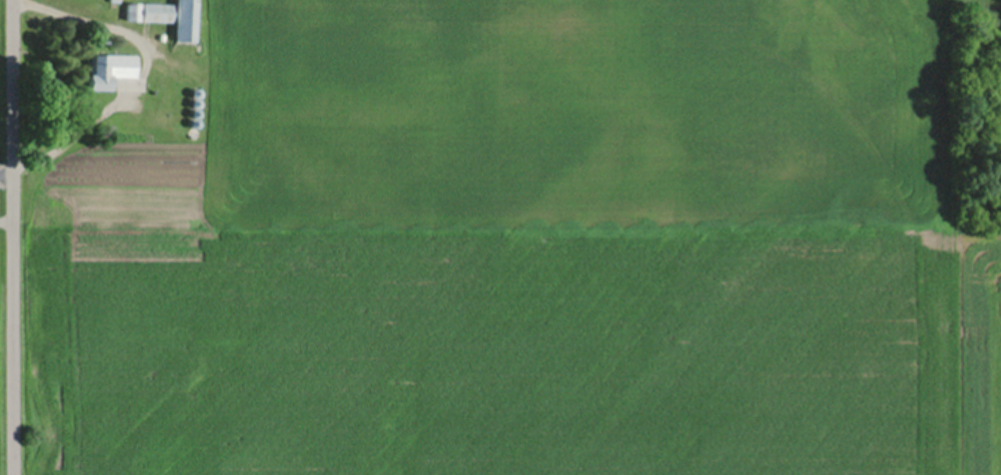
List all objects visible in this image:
building: (152, 12)
building: (189, 21)
building: (113, 70)
road: (140, 76)
road: (7, 171)
road: (7, 218)
road: (14, 237)

